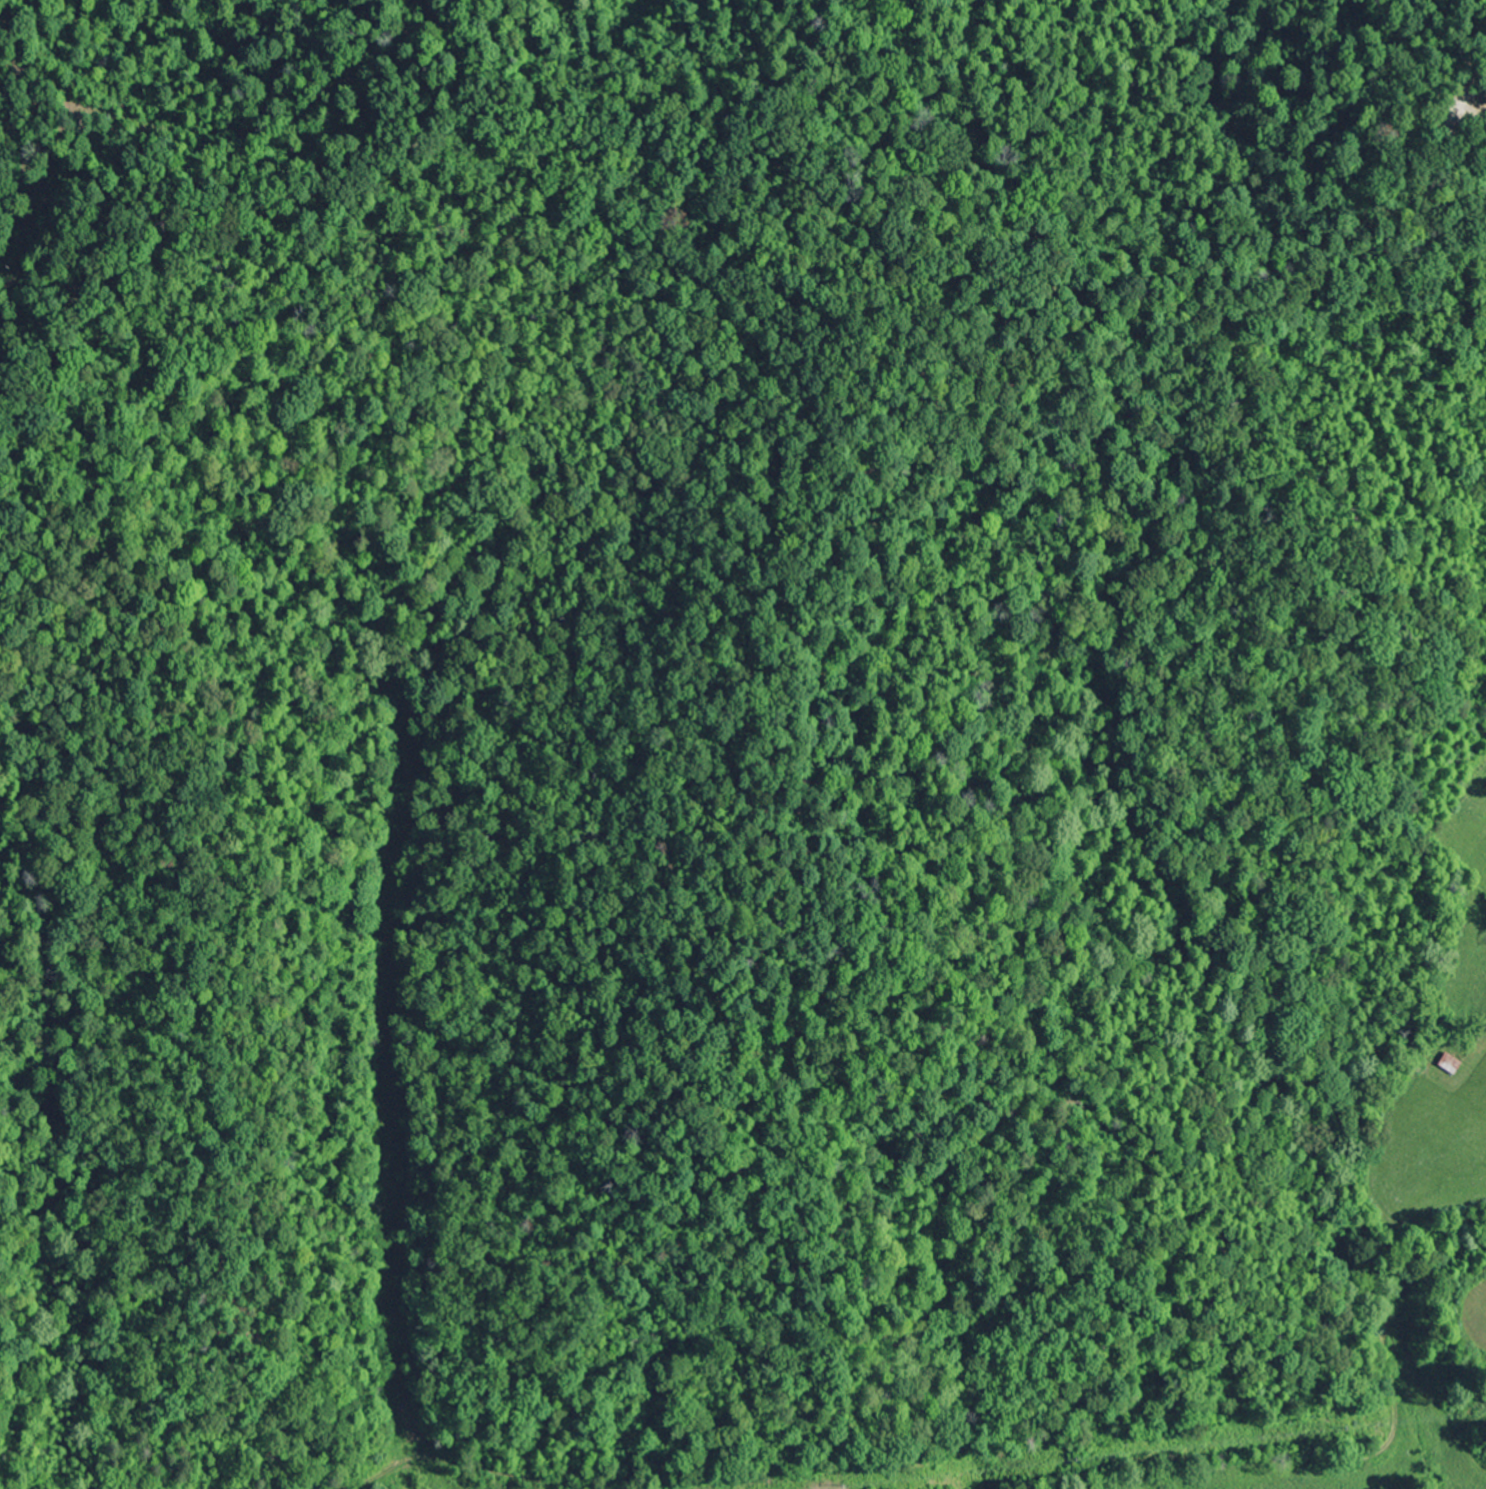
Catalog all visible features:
road: (1391, 1313)

